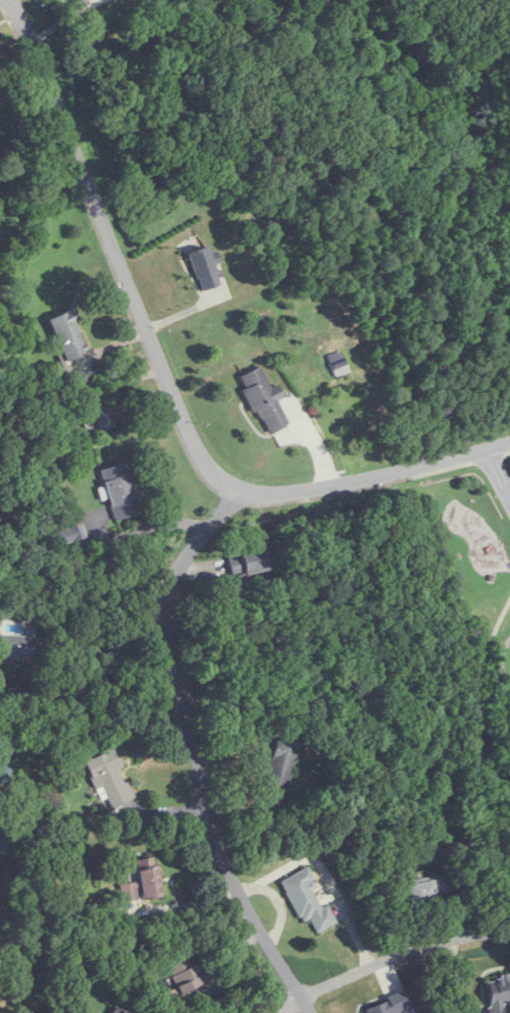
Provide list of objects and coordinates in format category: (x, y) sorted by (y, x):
building: (81, 2)
building: (204, 268)
building: (68, 336)
building: (85, 378)
road: (167, 380)
building: (264, 400)
building: (102, 416)
road: (498, 473)
building: (119, 491)
road: (152, 527)
building: (71, 534)
building: (251, 561)
road: (36, 575)
building: (17, 647)
road: (195, 752)
building: (280, 767)
building: (110, 778)
building: (9, 838)
building: (143, 882)
building: (424, 888)
building: (307, 900)
road: (391, 957)
building: (188, 976)
building: (498, 994)

